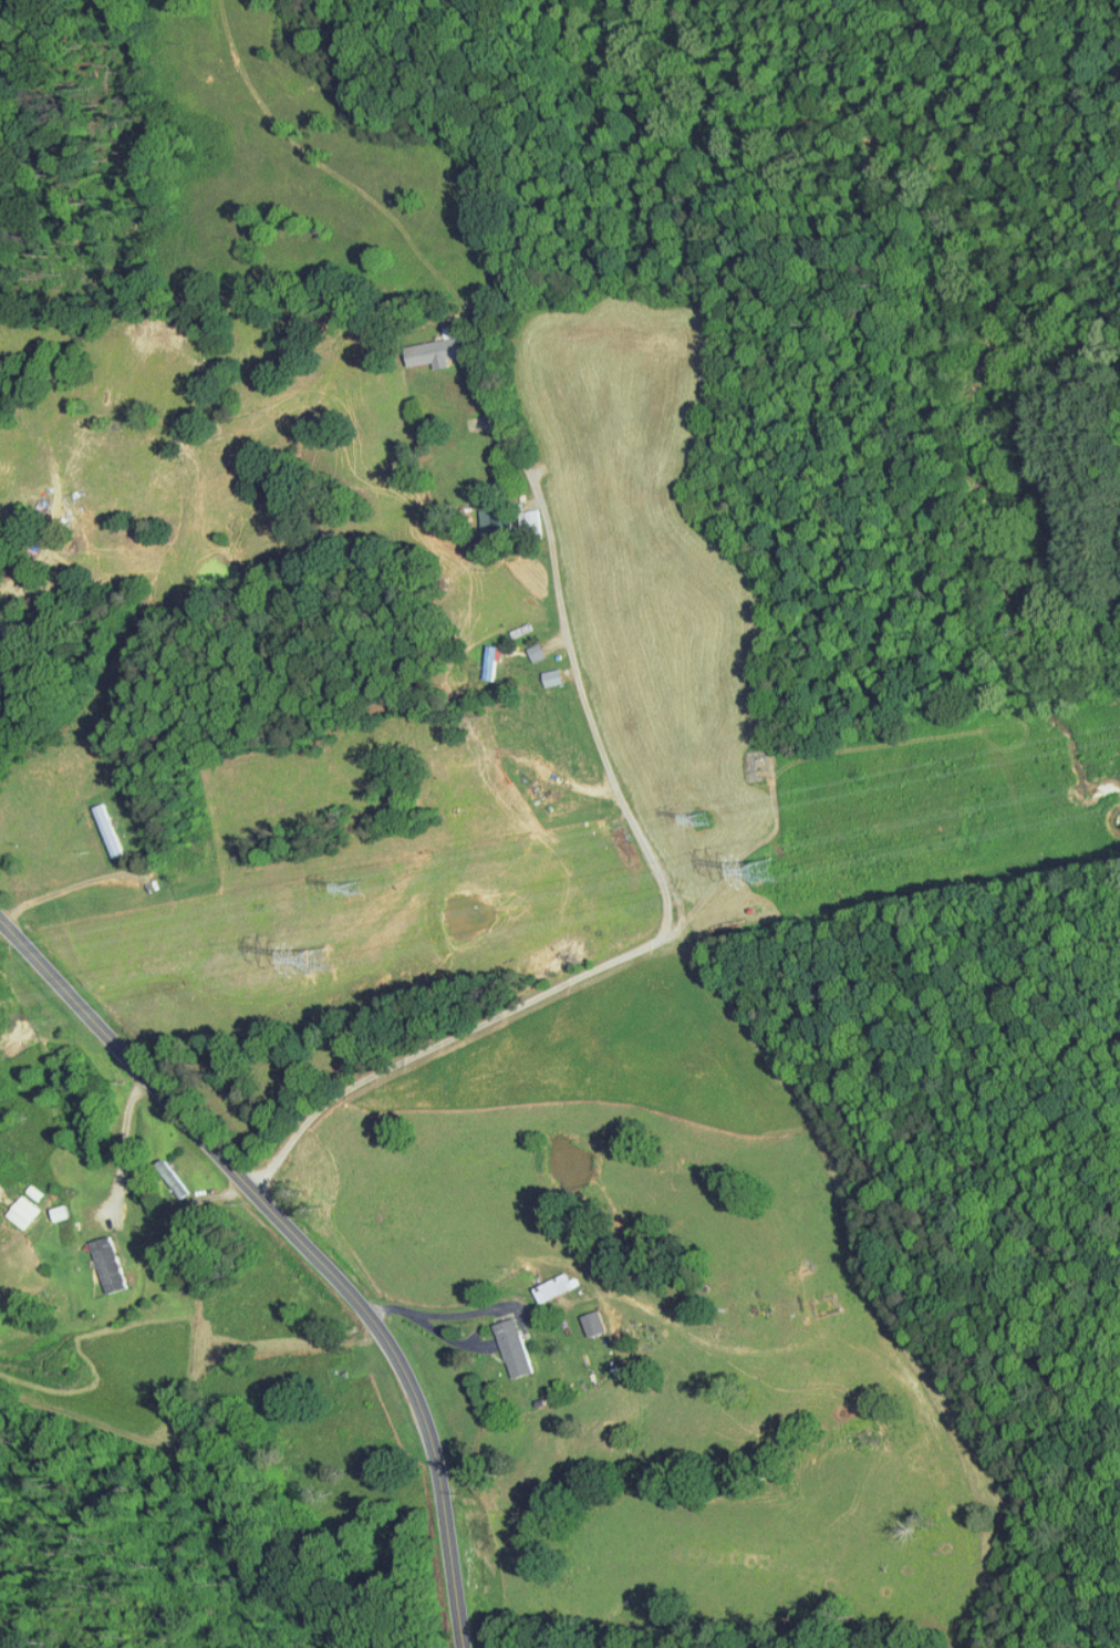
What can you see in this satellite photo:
road: (134, 242)
building: (431, 345)
road: (502, 421)
building: (483, 516)
road: (39, 557)
building: (527, 644)
building: (479, 655)
building: (542, 670)
power tower: (706, 820)
power tower: (769, 873)
power tower: (360, 892)
road: (664, 935)
power tower: (324, 962)
road: (124, 1142)
building: (164, 1172)
building: (12, 1205)
road: (305, 1240)
building: (98, 1257)
building: (542, 1279)
building: (583, 1316)
building: (502, 1341)

